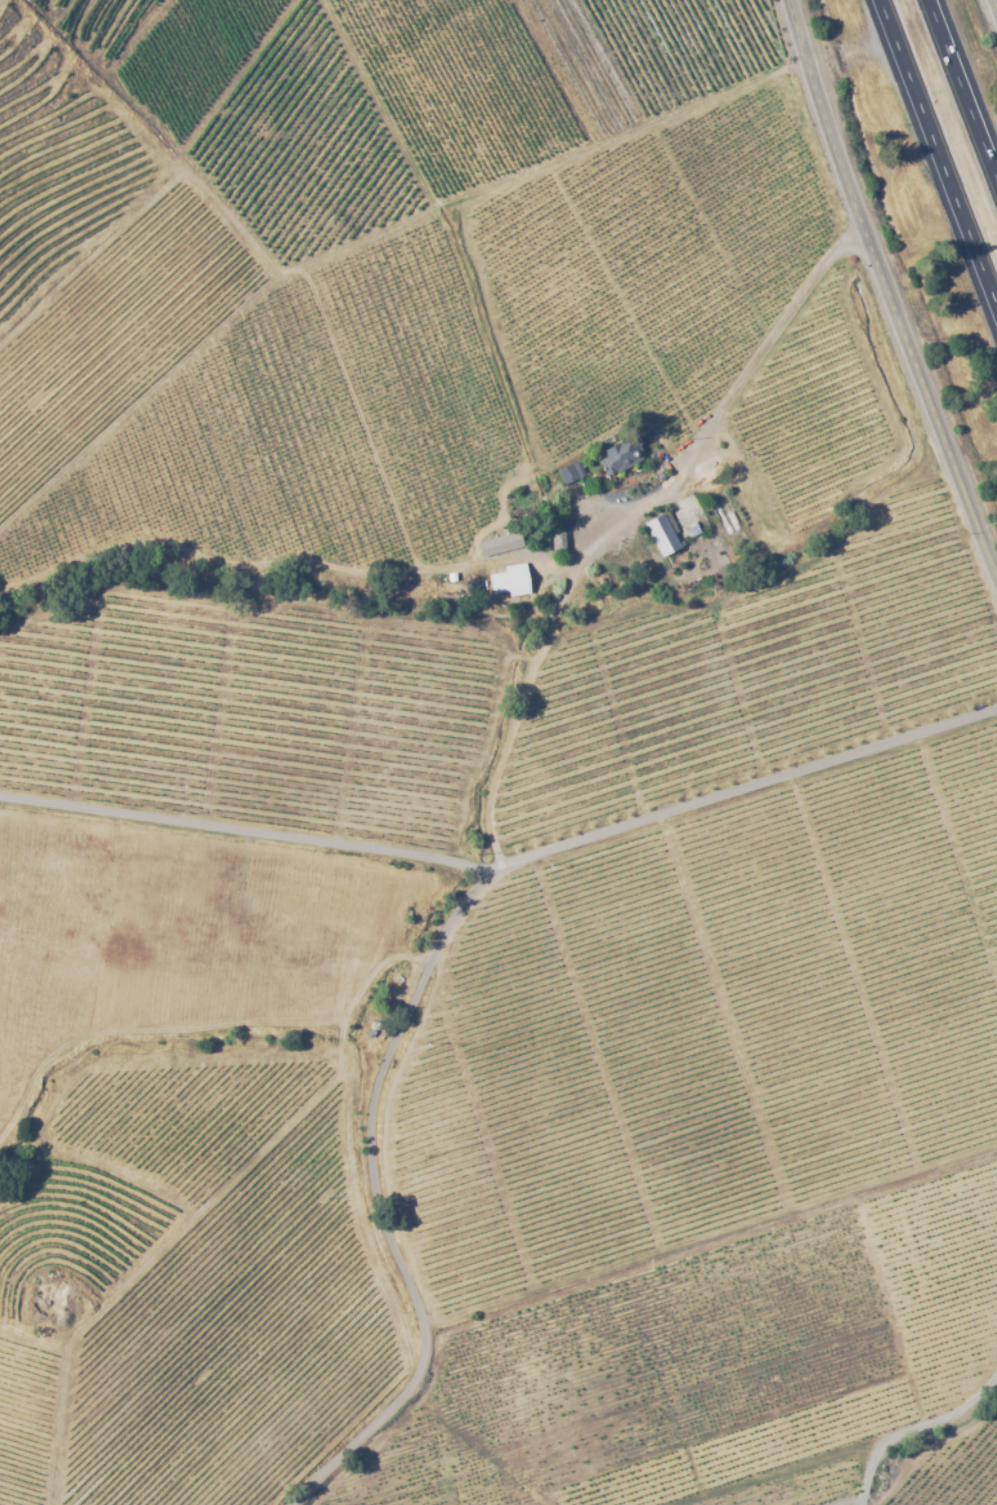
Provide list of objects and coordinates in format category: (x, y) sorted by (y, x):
road: (993, 8)
road: (965, 82)
road: (939, 151)
road: (889, 273)
road: (721, 409)
building: (621, 455)
building: (571, 472)
building: (690, 516)
building: (661, 536)
building: (559, 539)
building: (499, 546)
building: (450, 576)
building: (509, 582)
road: (513, 727)
road: (506, 863)
road: (376, 1197)

